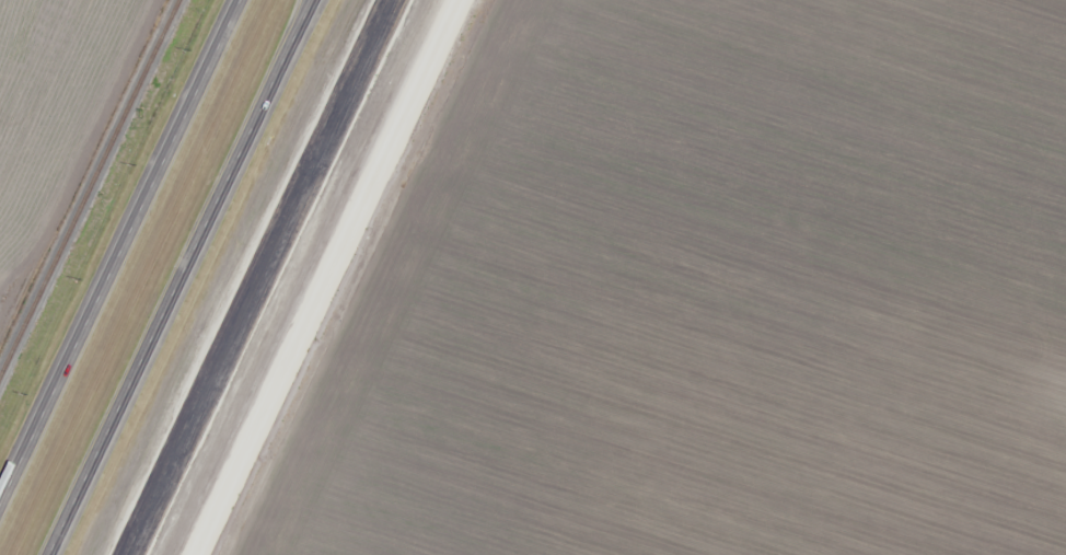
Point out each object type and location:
railway: (90, 189)
road: (123, 256)
road: (179, 277)
road: (255, 277)
road: (326, 277)

